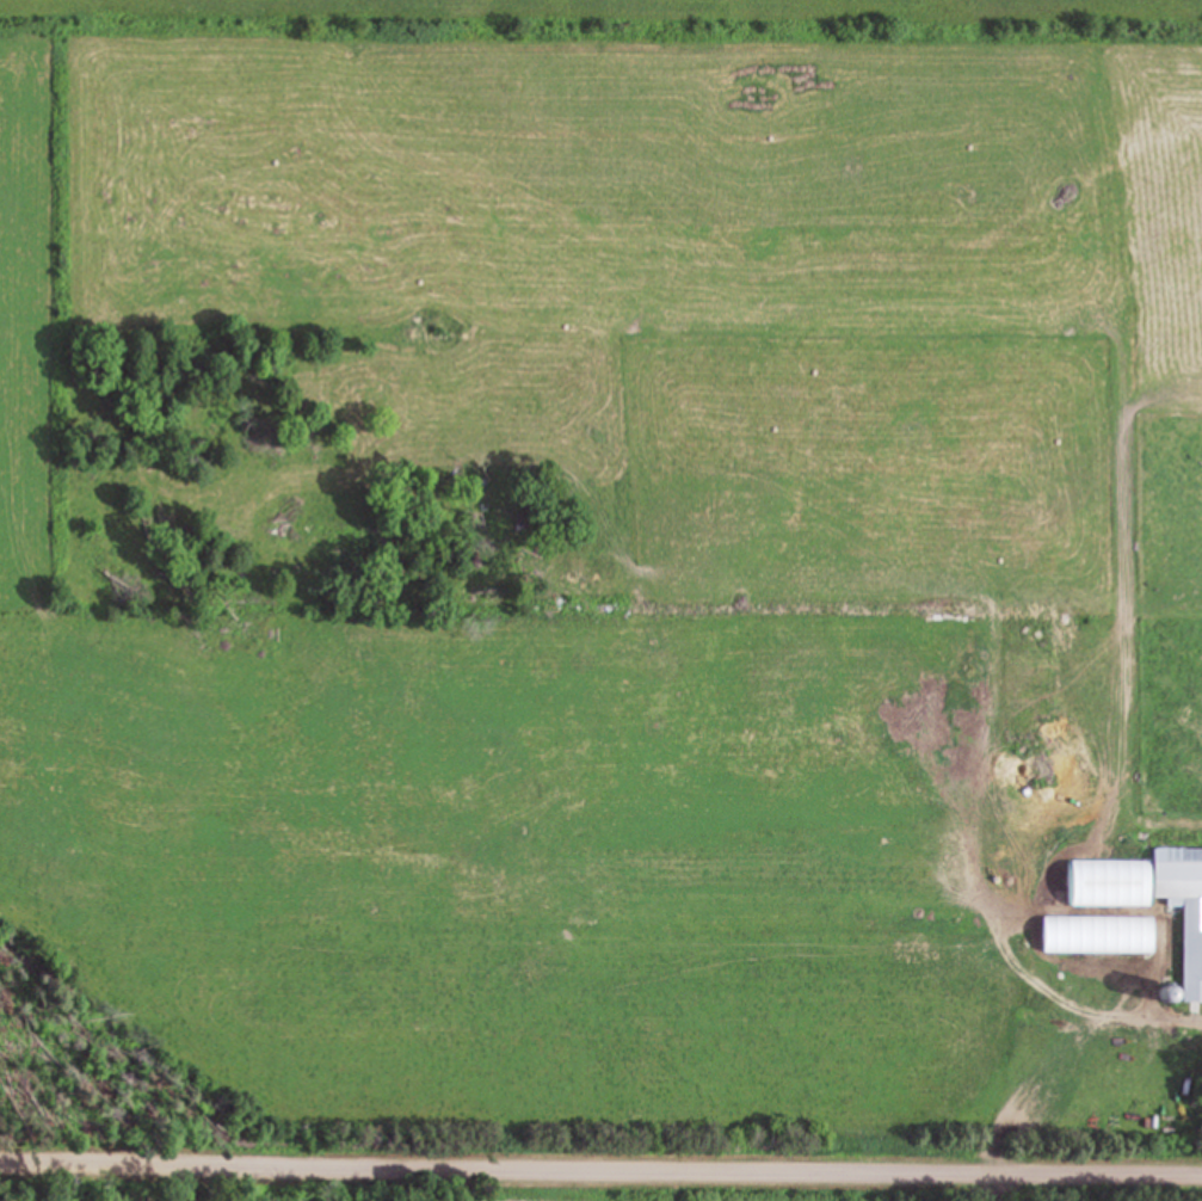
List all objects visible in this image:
building: (1147, 899)
building: (1105, 934)
road: (600, 1181)

